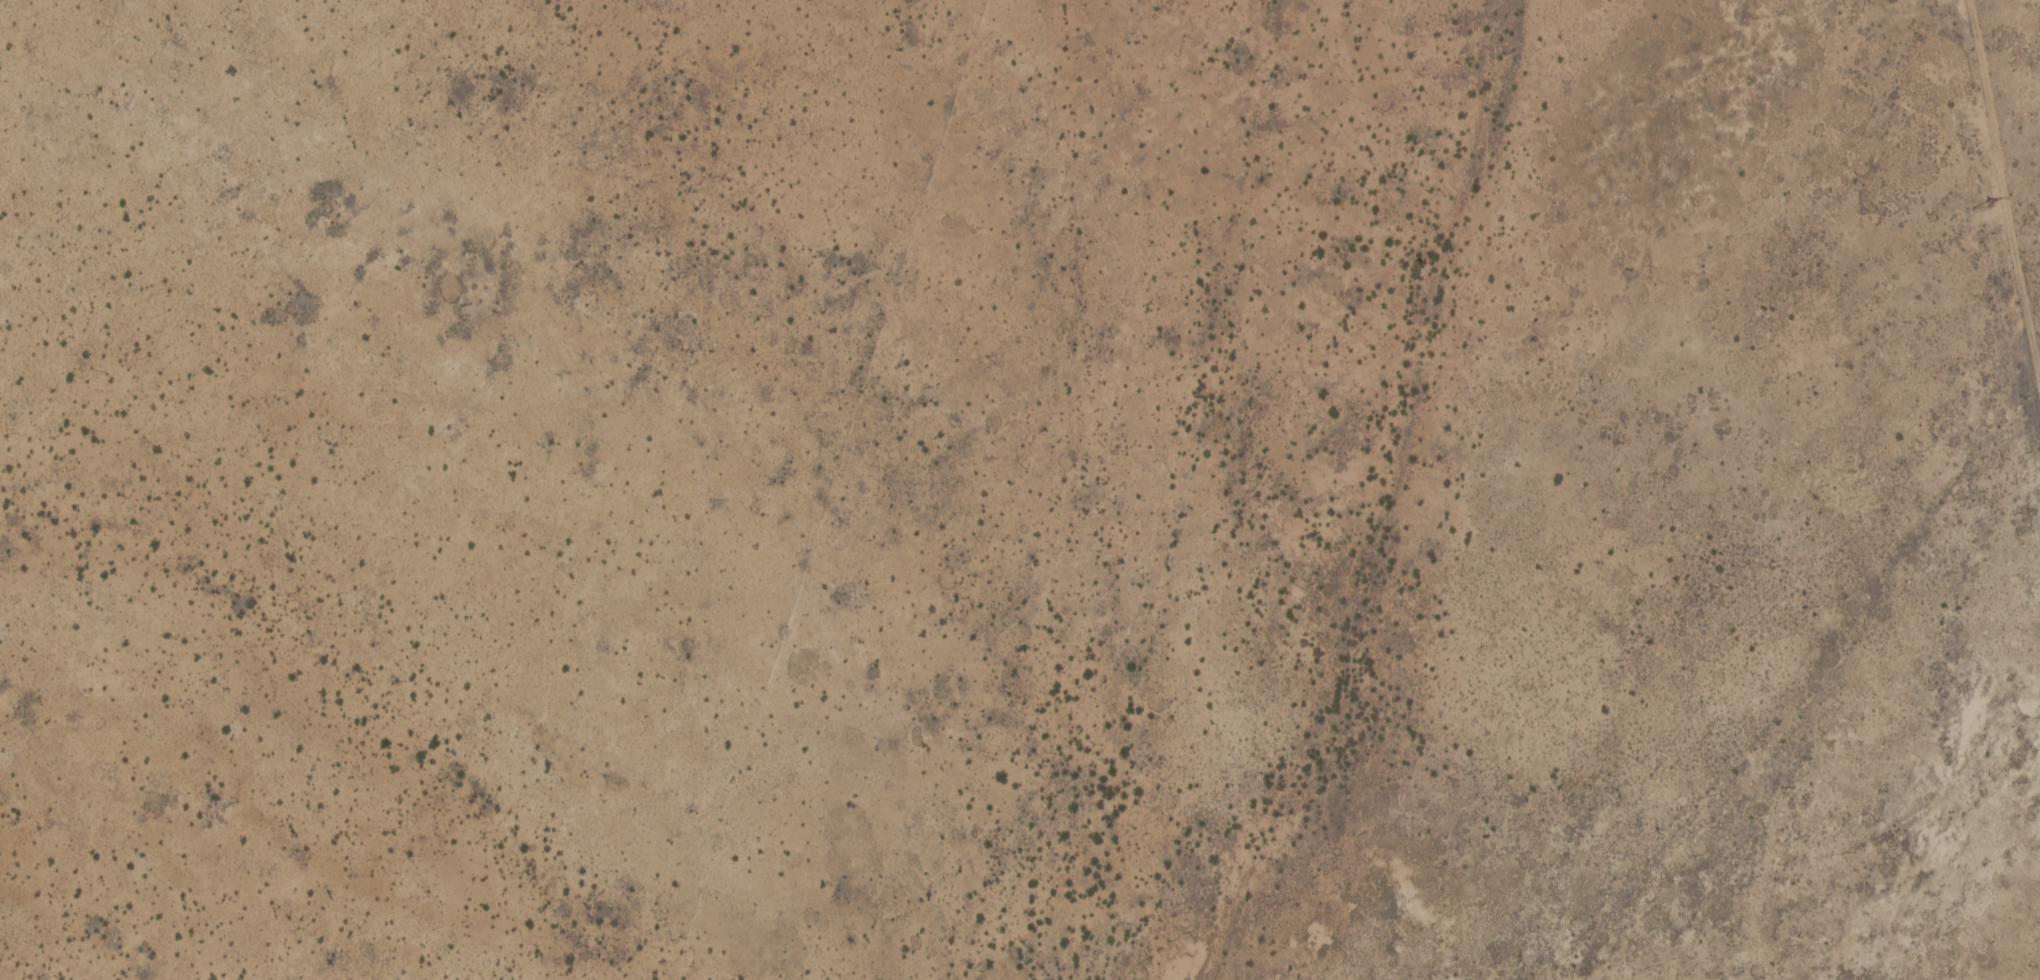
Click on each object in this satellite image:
road: (2019, 89)
power tower: (1980, 207)

